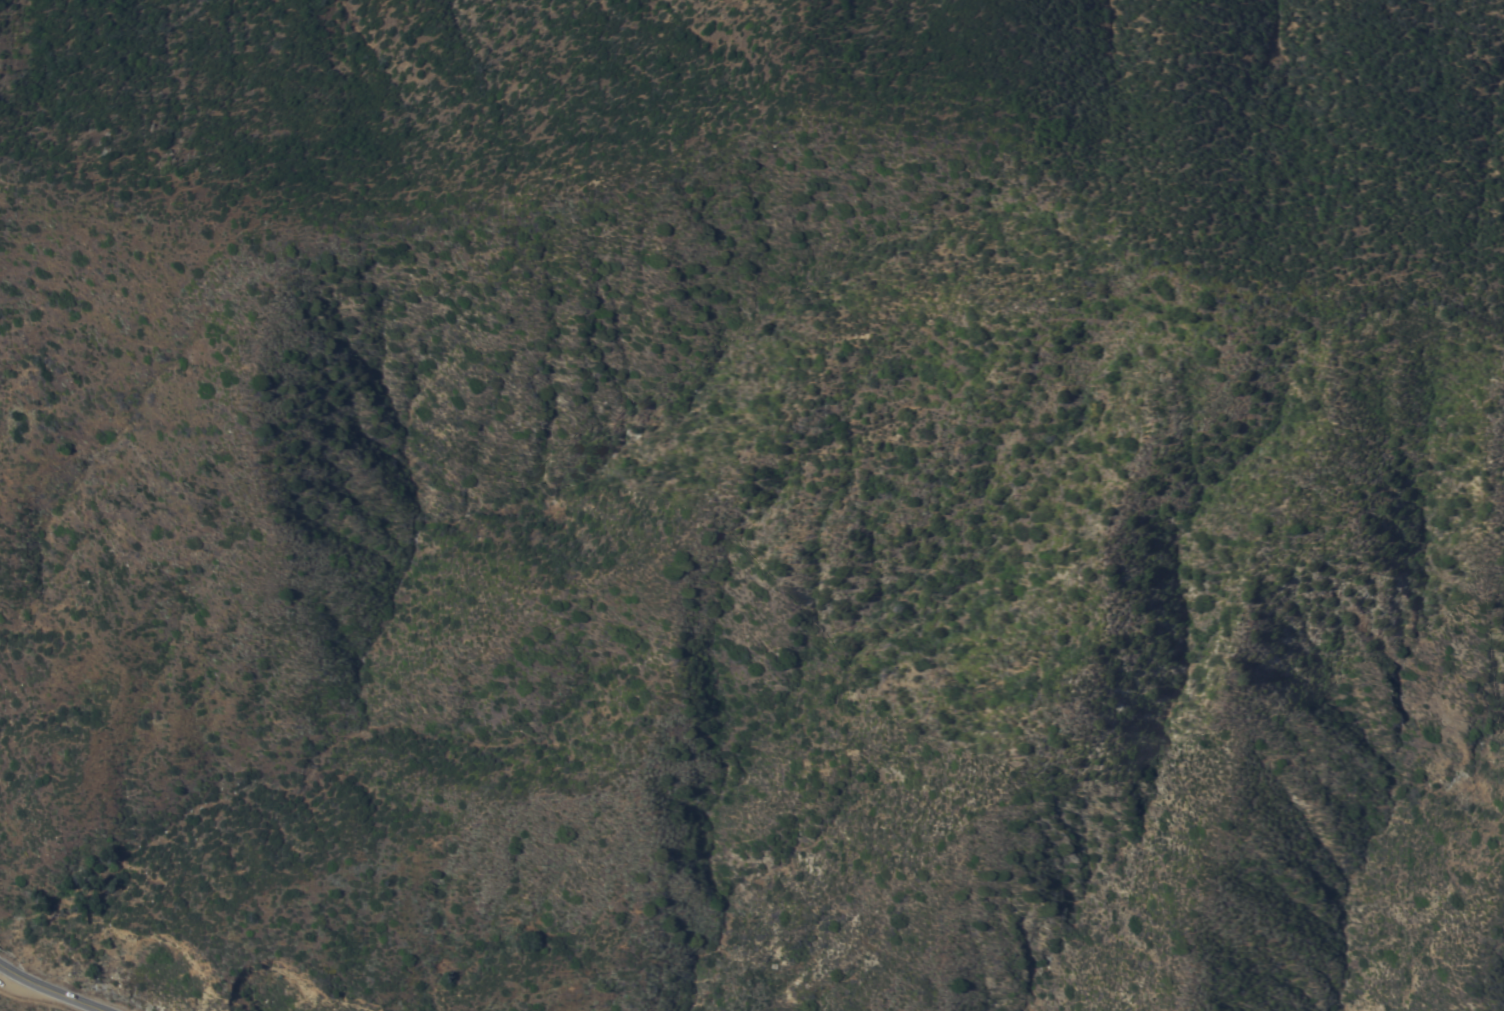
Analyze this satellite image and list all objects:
road: (49, 990)

